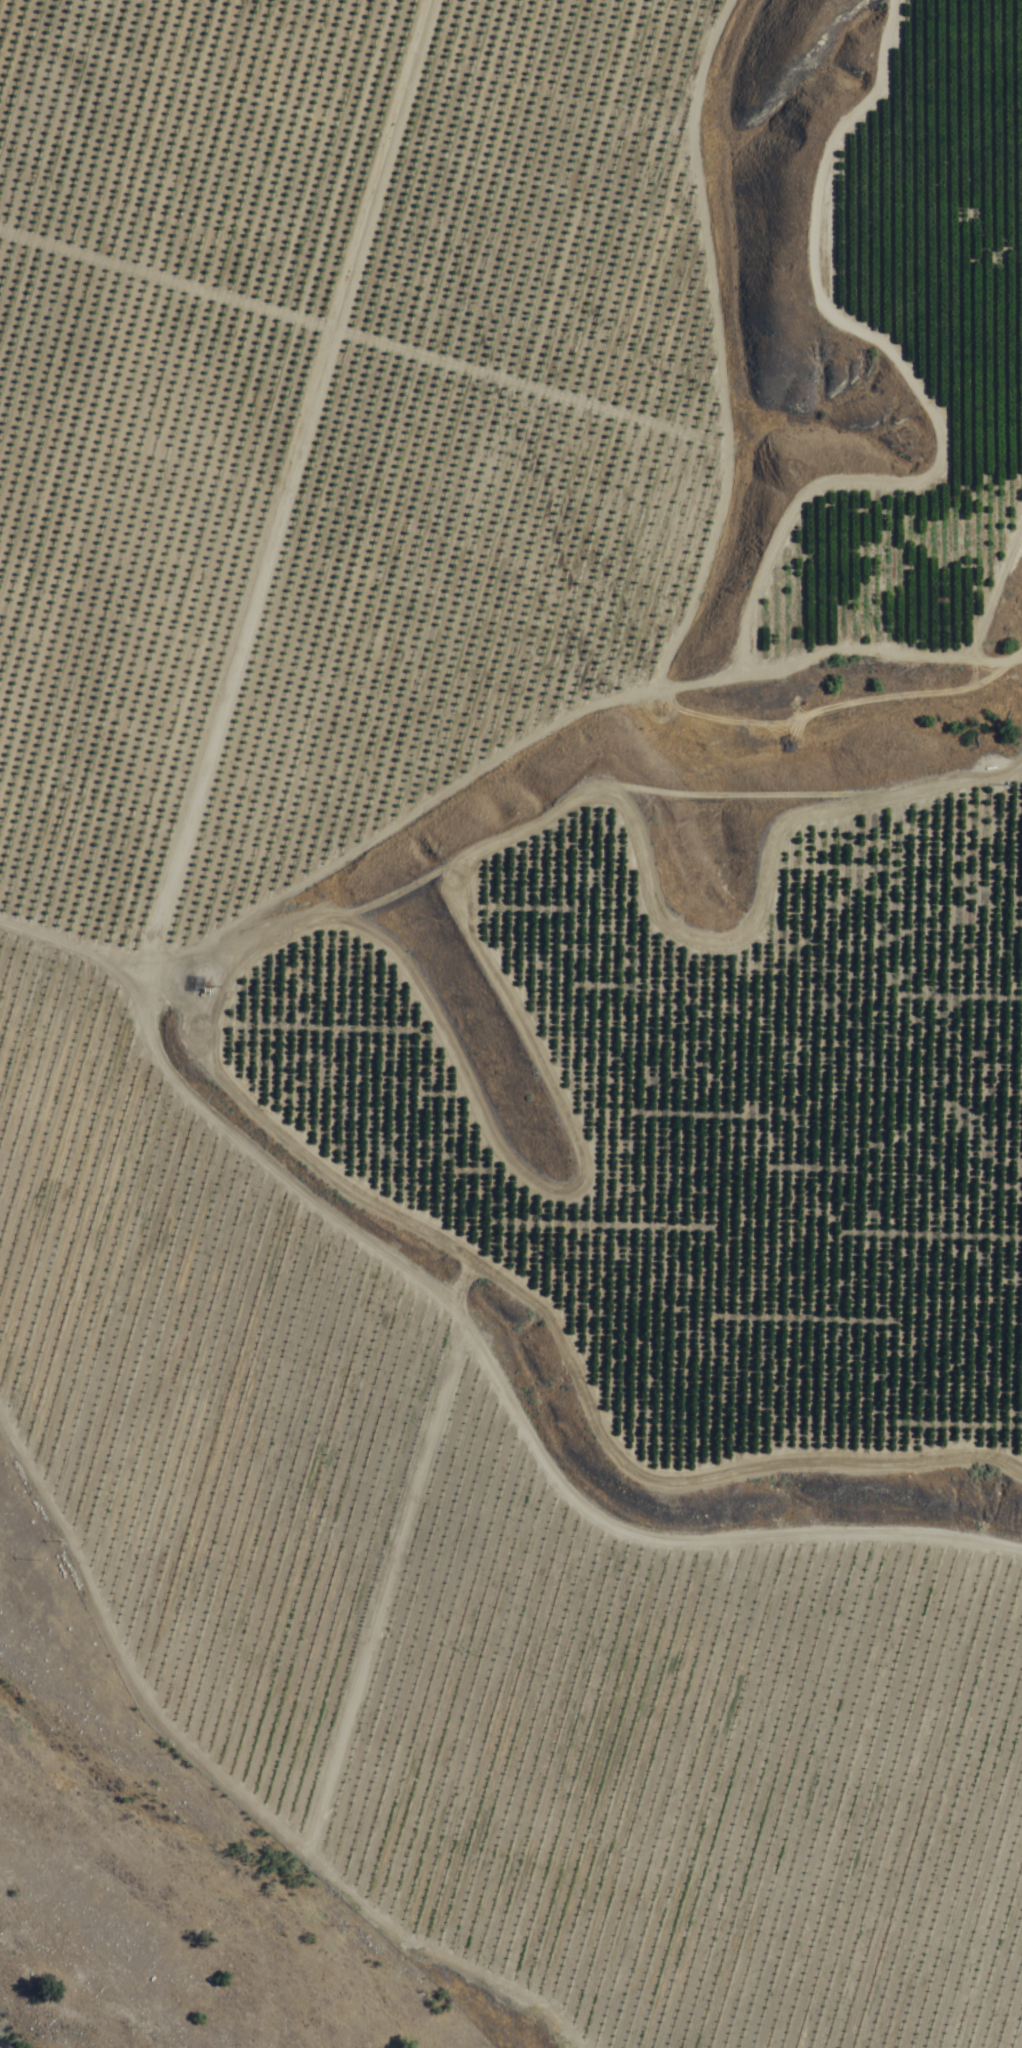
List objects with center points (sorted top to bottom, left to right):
road: (947, 372)
crop: (535, 960)
road: (473, 1356)

